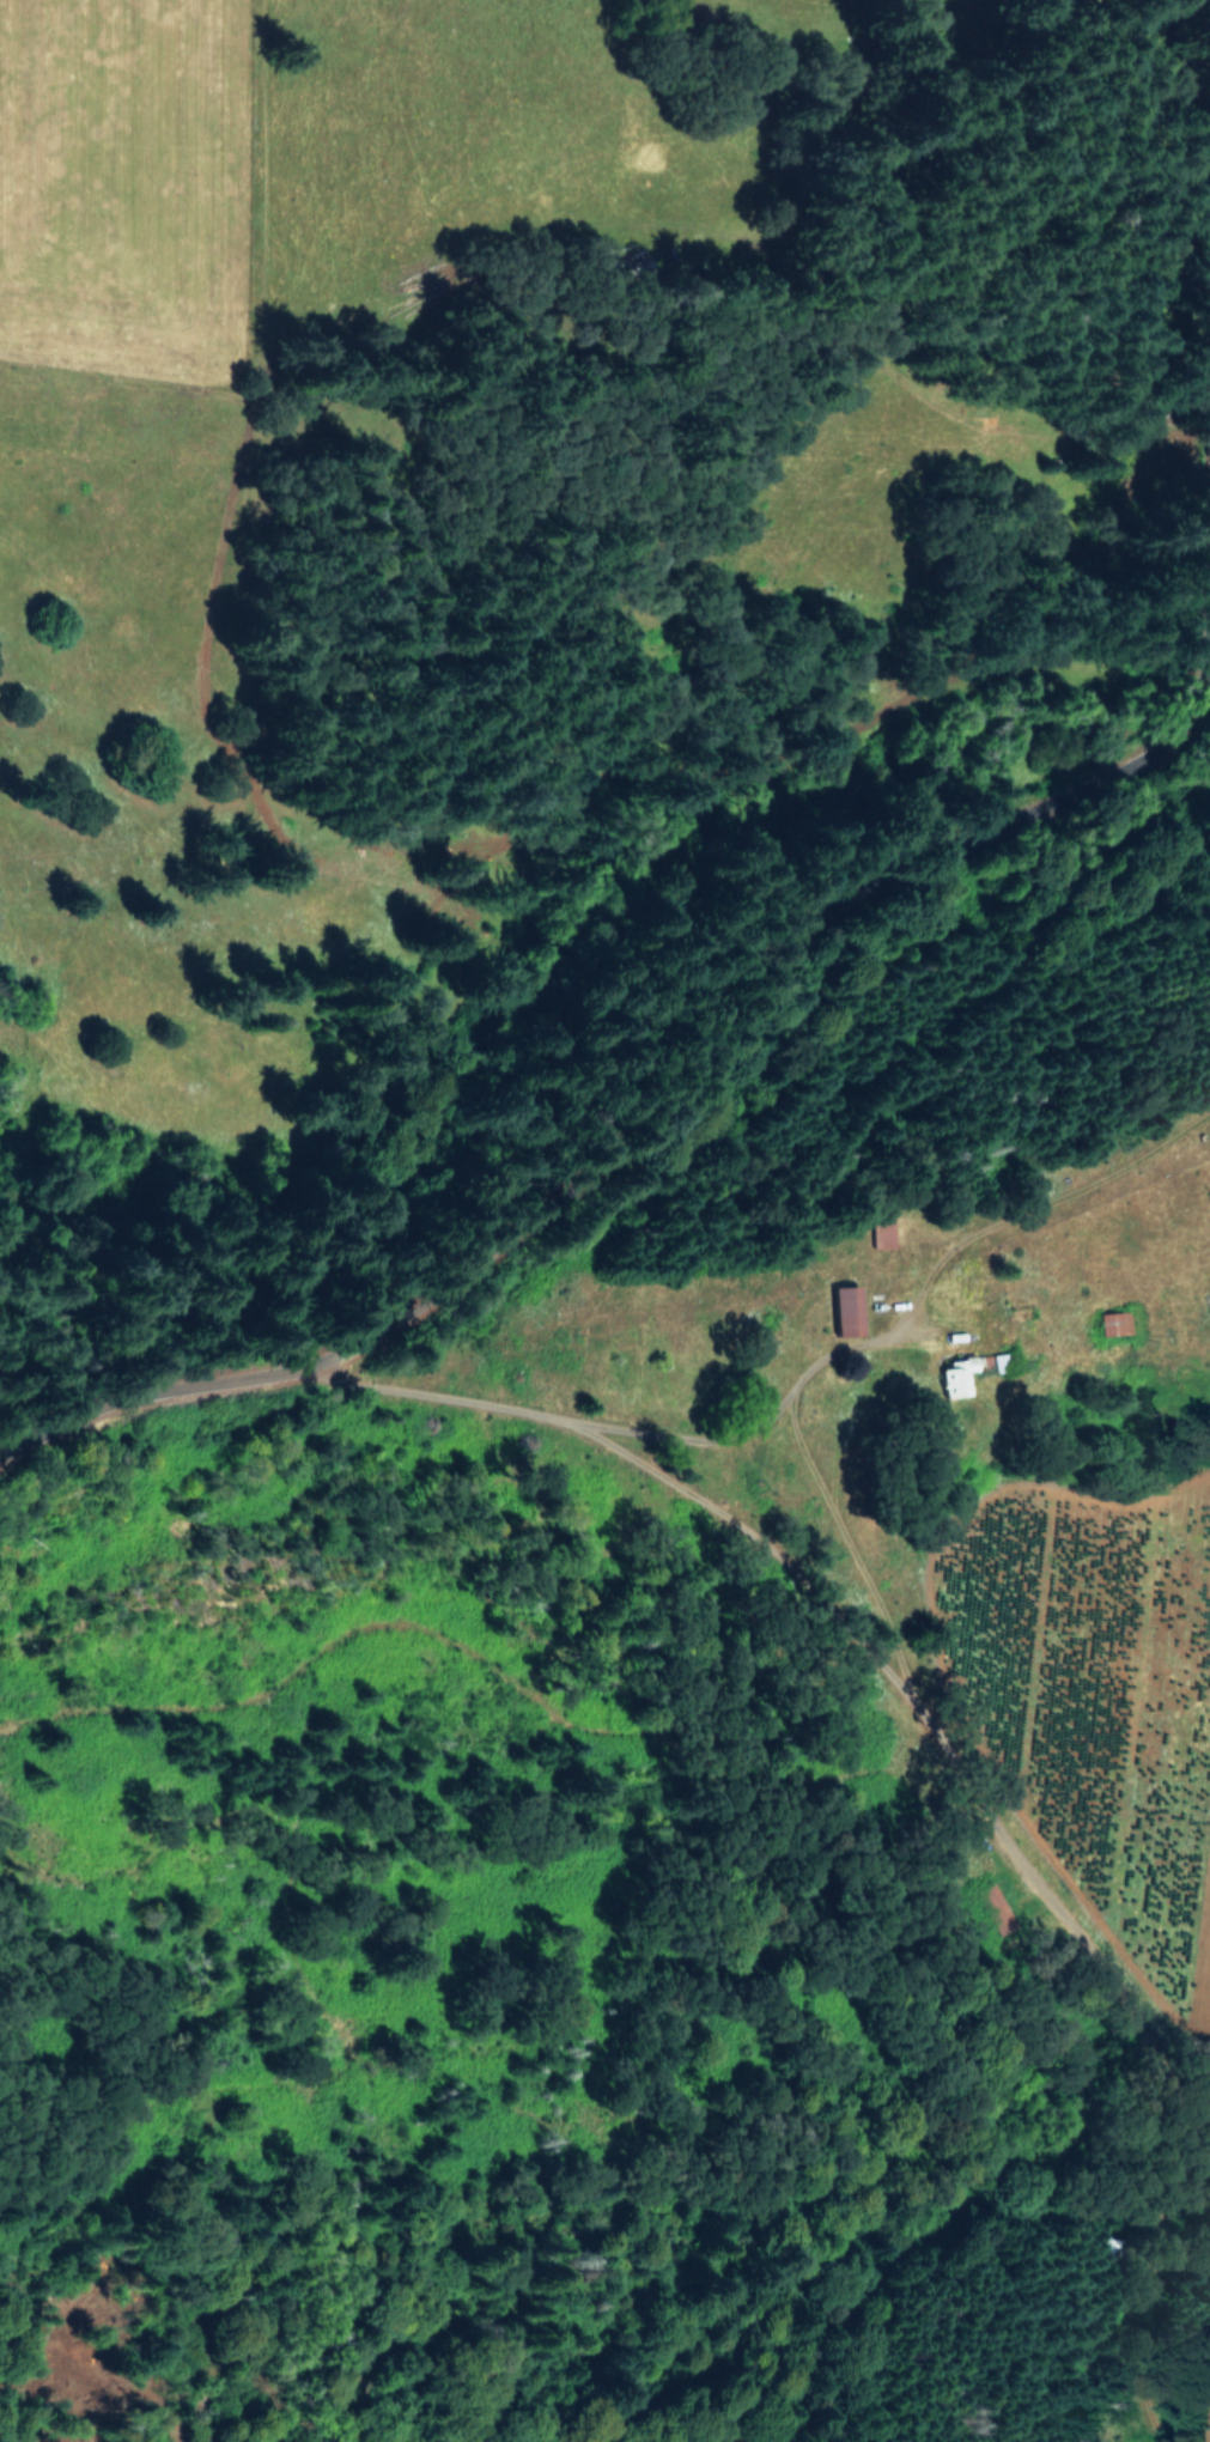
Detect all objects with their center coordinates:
crop: (278, 213)
road: (658, 1128)
road: (1047, 1208)
building: (882, 1235)
building: (847, 1308)
road: (613, 1433)
road: (948, 1760)

